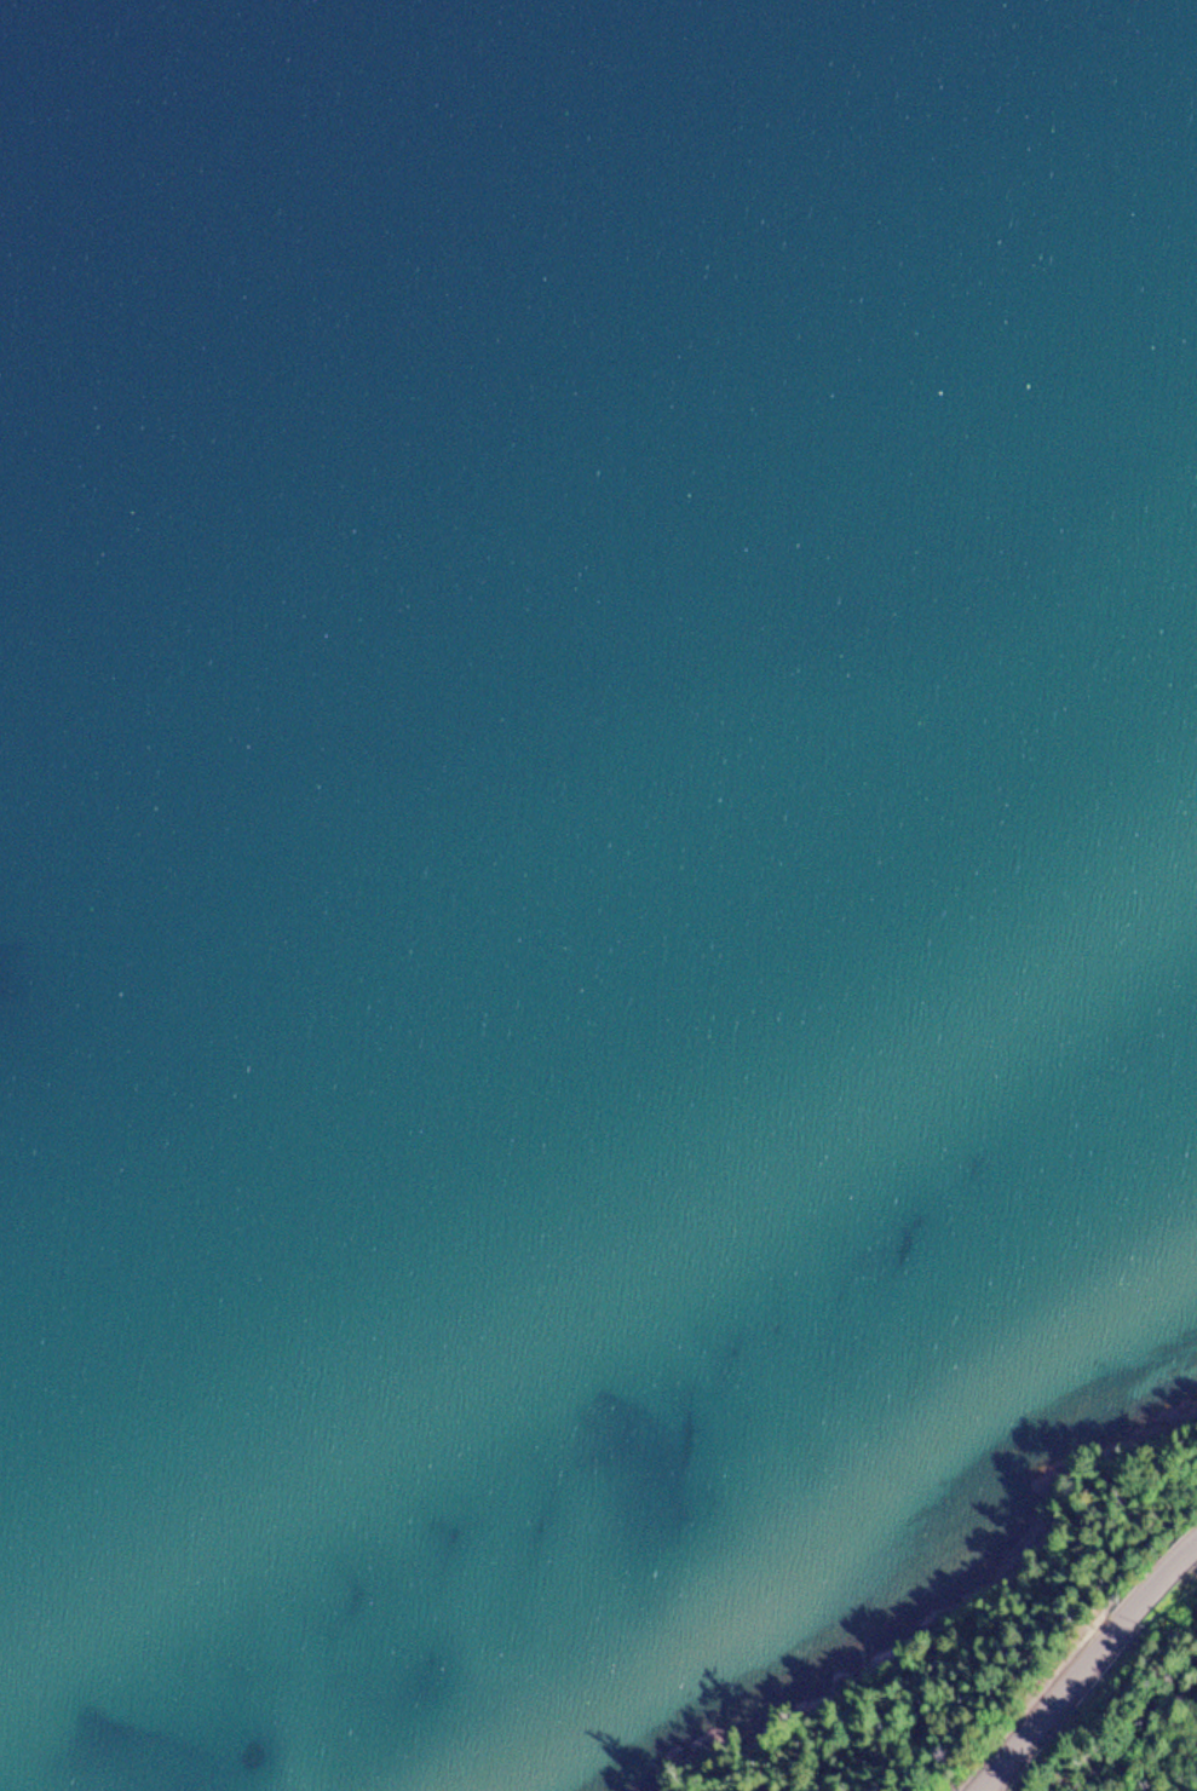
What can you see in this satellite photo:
road: (1089, 1670)

